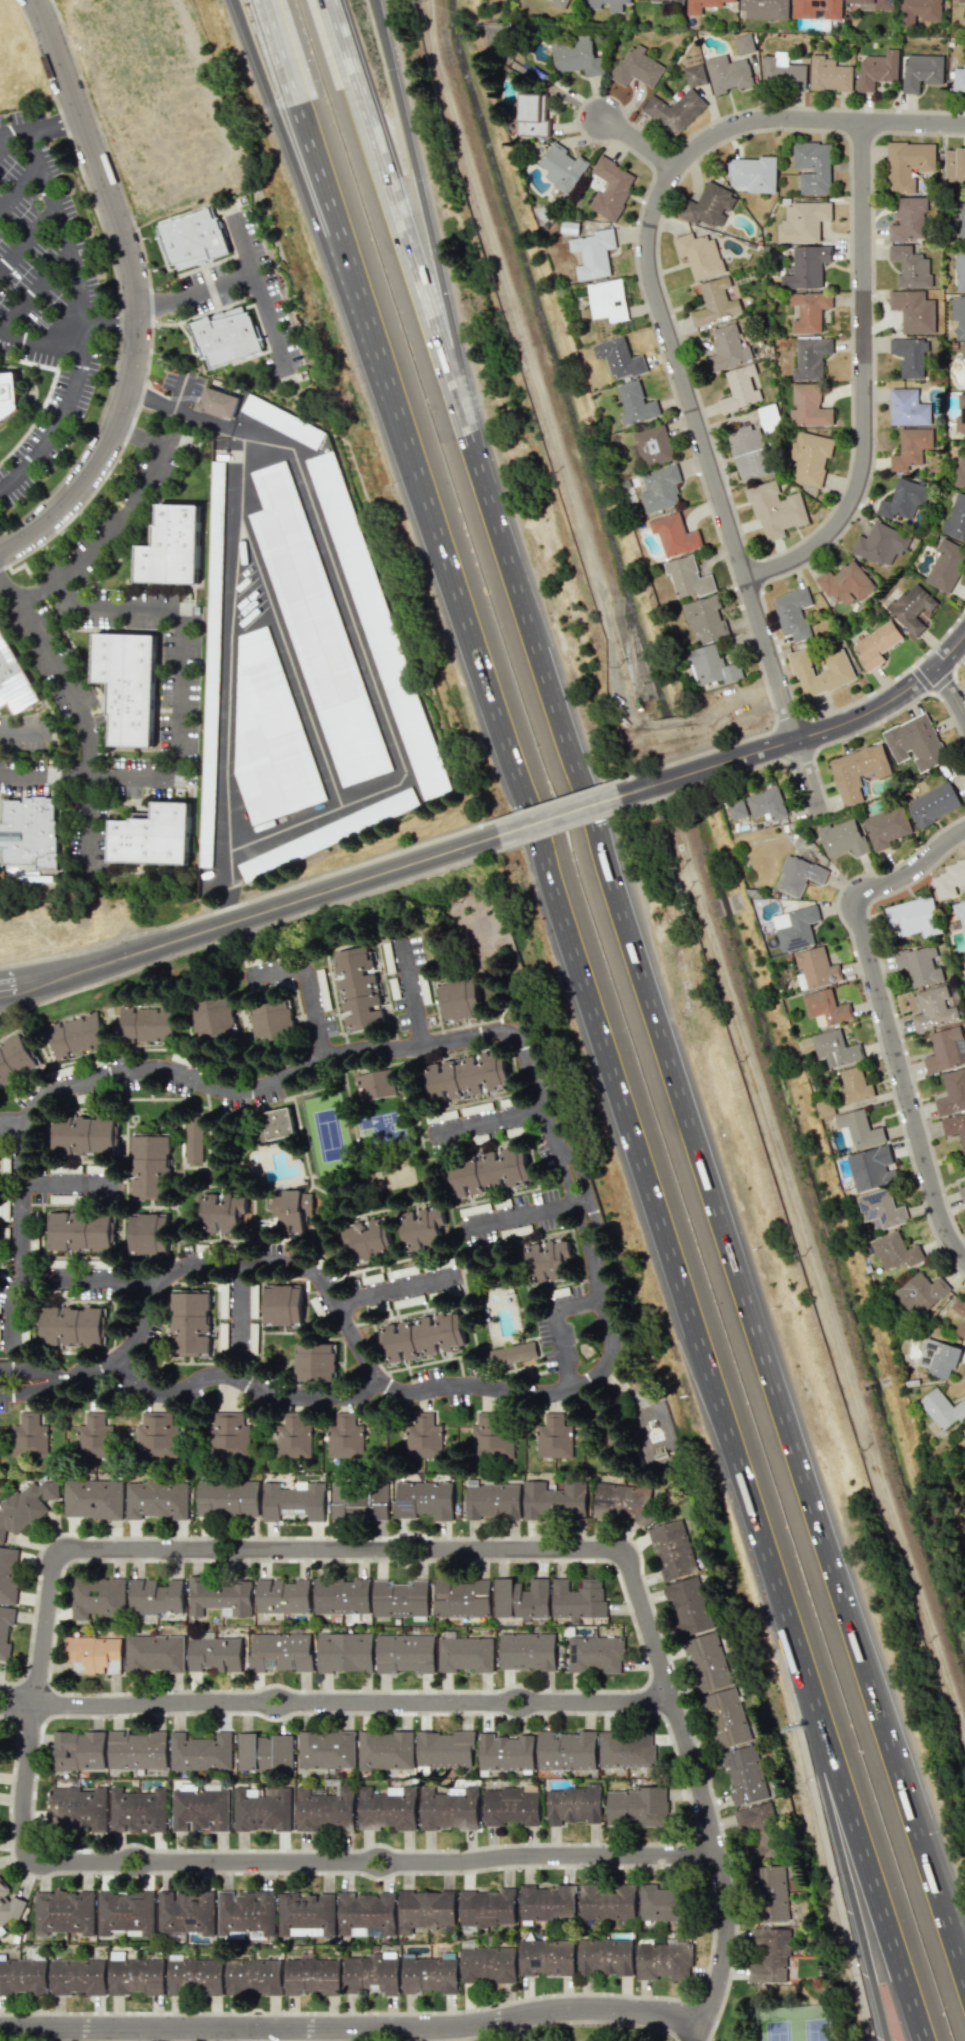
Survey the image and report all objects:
building: (666, 1)
building: (961, 1)
building: (560, 3)
building: (874, 4)
building: (590, 5)
building: (702, 5)
building: (816, 8)
building: (764, 9)
building: (919, 10)
road: (380, 11)
road: (381, 11)
road: (241, 15)
building: (743, 44)
building: (575, 56)
building: (636, 67)
building: (877, 69)
building: (782, 71)
building: (921, 71)
building: (728, 74)
building: (829, 74)
building: (694, 75)
building: (959, 79)
building: (675, 110)
building: (532, 115)
road: (52, 120)
road: (13, 131)
road: (4, 136)
road: (641, 141)
building: (954, 163)
building: (907, 164)
building: (813, 166)
building: (561, 168)
building: (752, 173)
road: (19, 187)
building: (610, 188)
building: (709, 205)
building: (909, 219)
building: (802, 221)
building: (960, 222)
road: (61, 225)
road: (26, 233)
building: (193, 238)
parking lot: (39, 248)
building: (592, 253)
building: (699, 255)
road: (410, 258)
building: (806, 267)
building: (910, 267)
road: (337, 268)
road: (353, 268)
road: (439, 269)
building: (959, 270)
road: (237, 275)
road: (114, 277)
road: (34, 287)
road: (135, 292)
parking lot: (246, 293)
building: (607, 300)
building: (715, 302)
road: (150, 304)
building: (913, 310)
building: (808, 311)
building: (958, 315)
road: (108, 321)
building: (225, 336)
road: (41, 342)
road: (673, 345)
building: (726, 349)
building: (962, 350)
building: (909, 356)
building: (810, 357)
building: (619, 358)
road: (865, 381)
building: (739, 389)
building: (9, 397)
building: (218, 403)
building: (635, 403)
building: (808, 406)
building: (908, 407)
road: (60, 414)
building: (960, 415)
building: (769, 418)
building: (283, 420)
parking lot: (49, 429)
building: (651, 445)
building: (910, 448)
building: (749, 453)
building: (809, 457)
building: (960, 472)
building: (659, 488)
road: (133, 498)
building: (902, 501)
building: (775, 510)
building: (955, 519)
building: (674, 534)
building: (880, 545)
building: (171, 547)
building: (945, 566)
building: (687, 577)
road: (730, 580)
building: (846, 583)
road: (40, 591)
road: (232, 601)
building: (911, 608)
building: (793, 613)
building: (704, 617)
road: (351, 619)
building: (378, 625)
building: (316, 628)
building: (875, 645)
road: (289, 662)
building: (212, 663)
building: (711, 666)
building: (836, 671)
building: (13, 680)
building: (128, 685)
road: (952, 690)
road: (81, 709)
road: (179, 714)
road: (817, 732)
building: (270, 737)
building: (915, 742)
building: (857, 771)
building: (767, 803)
building: (933, 803)
building: (736, 809)
road: (226, 812)
road: (569, 814)
building: (886, 827)
building: (29, 832)
building: (327, 834)
building: (153, 836)
building: (842, 838)
building: (798, 875)
building: (949, 879)
building: (960, 913)
road: (245, 917)
building: (913, 917)
building: (795, 927)
building: (920, 965)
building: (815, 968)
road: (305, 981)
building: (357, 988)
road: (410, 992)
building: (459, 998)
building: (825, 1007)
building: (933, 1009)
road: (884, 1015)
building: (213, 1017)
building: (272, 1020)
building: (146, 1025)
building: (76, 1036)
building: (835, 1048)
building: (945, 1050)
building: (180, 1059)
building: (16, 1060)
building: (467, 1075)
building: (376, 1084)
building: (853, 1085)
building: (952, 1092)
road: (619, 1102)
building: (824, 1108)
road: (687, 1113)
building: (278, 1123)
building: (390, 1124)
road: (483, 1124)
building: (955, 1128)
building: (858, 1129)
building: (85, 1135)
building: (193, 1138)
building: (150, 1166)
building: (964, 1166)
building: (871, 1168)
building: (488, 1171)
road: (65, 1184)
building: (962, 1193)
road: (20, 1197)
building: (307, 1203)
building: (502, 1203)
building: (880, 1209)
building: (288, 1211)
building: (222, 1213)
road: (524, 1217)
building: (419, 1228)
building: (82, 1231)
building: (510, 1232)
building: (148, 1234)
building: (367, 1239)
building: (894, 1251)
building: (548, 1260)
road: (595, 1268)
road: (84, 1279)
road: (396, 1288)
building: (920, 1292)
road: (238, 1304)
building: (282, 1305)
road: (12, 1310)
building: (189, 1323)
building: (961, 1324)
building: (74, 1326)
road: (558, 1328)
building: (421, 1337)
building: (512, 1354)
building: (939, 1358)
building: (315, 1362)
road: (26, 1371)
road: (56, 1377)
road: (239, 1380)
road: (27, 1388)
building: (941, 1410)
building: (93, 1434)
building: (156, 1434)
building: (228, 1435)
building: (345, 1435)
building: (491, 1435)
building: (29, 1436)
building: (293, 1436)
building: (554, 1436)
building: (423, 1437)
building: (228, 1498)
building: (93, 1499)
building: (157, 1499)
building: (423, 1499)
building: (294, 1500)
building: (553, 1500)
building: (359, 1501)
building: (491, 1501)
building: (622, 1502)
building: (25, 1506)
road: (340, 1548)
building: (672, 1549)
building: (8, 1574)
building: (155, 1596)
building: (220, 1596)
building: (283, 1596)
building: (341, 1596)
building: (96, 1598)
building: (400, 1598)
building: (462, 1598)
building: (520, 1598)
building: (578, 1600)
building: (689, 1606)
building: (5, 1632)
building: (527, 1651)
building: (281, 1652)
building: (345, 1652)
building: (154, 1653)
building: (405, 1653)
building: (594, 1653)
building: (93, 1654)
building: (214, 1654)
building: (465, 1654)
building: (716, 1690)
road: (17, 1693)
road: (352, 1703)
road: (16, 1706)
building: (326, 1749)
building: (444, 1749)
building: (77, 1750)
building: (137, 1750)
building: (385, 1750)
building: (566, 1750)
building: (626, 1750)
building: (200, 1752)
building: (264, 1752)
building: (505, 1752)
building: (743, 1775)
building: (574, 1804)
building: (511, 1805)
building: (636, 1807)
building: (78, 1808)
building: (387, 1808)
building: (262, 1809)
building: (449, 1809)
building: (138, 1810)
building: (200, 1810)
building: (324, 1810)
building: (753, 1815)
road: (922, 1821)
road: (923, 1840)
building: (757, 1843)
road: (843, 1854)
road: (864, 1854)
road: (294, 1862)
road: (718, 1871)
building: (771, 1893)
building: (547, 1901)
building: (607, 1901)
building: (658, 1901)
building: (9, 1905)
building: (487, 1907)
building: (425, 1910)
building: (64, 1912)
building: (126, 1912)
building: (186, 1912)
building: (246, 1912)
building: (306, 1914)
building: (366, 1914)
building: (769, 1955)
building: (604, 1956)
building: (546, 1958)
building: (663, 1960)
building: (488, 1964)
building: (372, 1973)
building: (429, 1974)
building: (23, 1976)
building: (77, 1976)
building: (136, 1976)
building: (195, 1976)
building: (254, 1976)
building: (311, 1976)
road: (351, 2026)
road: (260, 2032)
road: (271, 2032)

